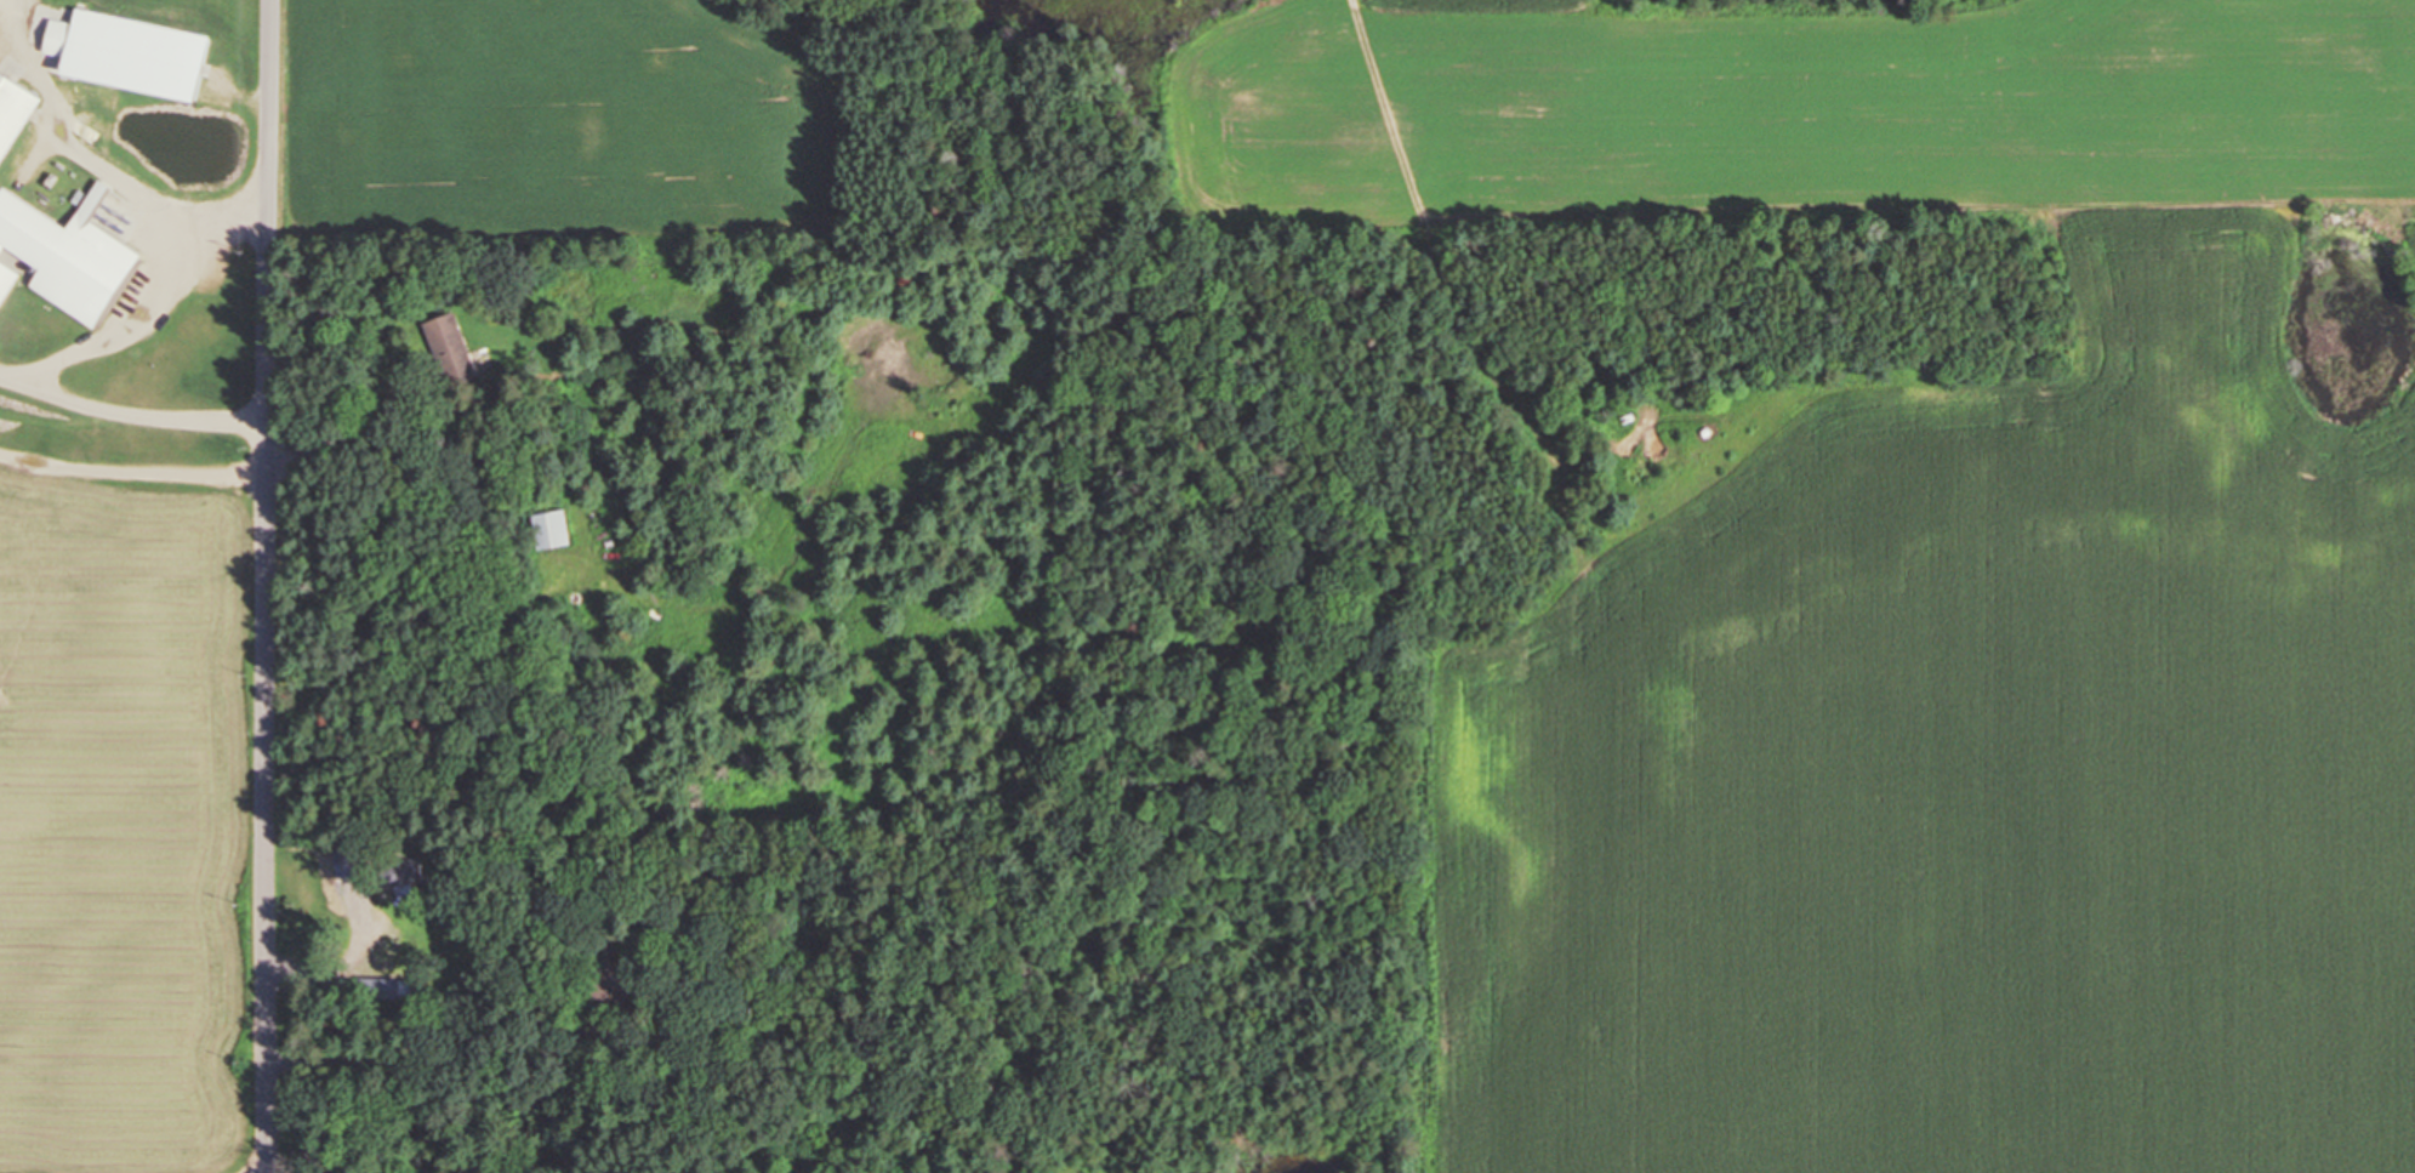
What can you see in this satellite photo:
road: (223, 30)
building: (123, 52)
road: (104, 160)
building: (451, 349)
road: (42, 375)
road: (133, 471)
building: (548, 528)
road: (268, 586)
building: (401, 872)

